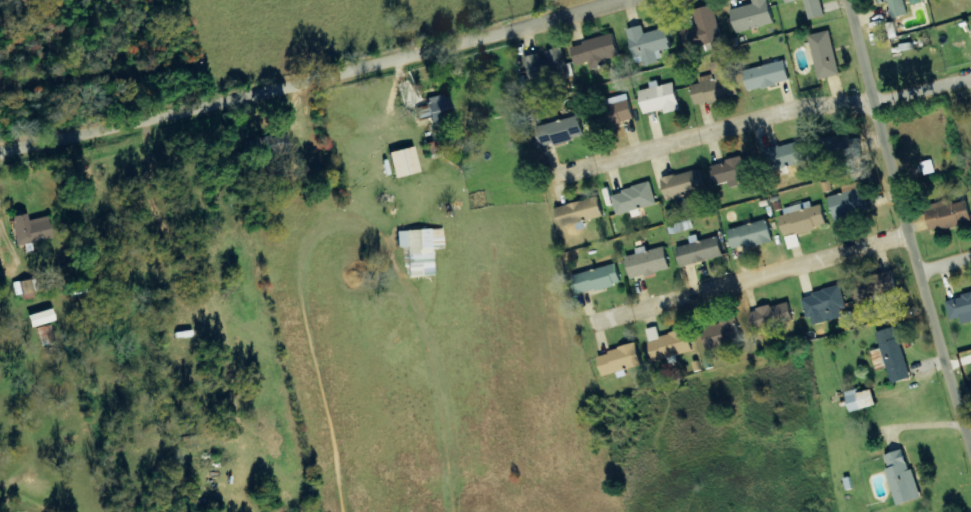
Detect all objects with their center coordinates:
building: (916, 2)
building: (812, 7)
building: (898, 8)
building: (753, 16)
building: (704, 29)
building: (649, 44)
building: (597, 52)
building: (825, 55)
building: (548, 66)
building: (768, 76)
road: (321, 79)
building: (716, 84)
building: (660, 99)
building: (436, 110)
building: (614, 116)
road: (763, 120)
building: (561, 132)
building: (273, 147)
building: (847, 148)
building: (789, 156)
building: (403, 162)
building: (736, 170)
building: (684, 185)
building: (635, 200)
building: (850, 203)
building: (581, 212)
building: (949, 216)
building: (804, 218)
road: (904, 224)
building: (680, 228)
building: (30, 229)
building: (751, 236)
building: (421, 249)
building: (700, 251)
building: (649, 263)
road: (944, 267)
building: (597, 280)
road: (752, 281)
building: (876, 286)
building: (24, 289)
building: (826, 306)
building: (960, 309)
building: (773, 317)
building: (723, 334)
building: (45, 335)
building: (670, 344)
building: (894, 356)
building: (621, 361)
building: (861, 400)
road: (970, 440)
building: (902, 478)

